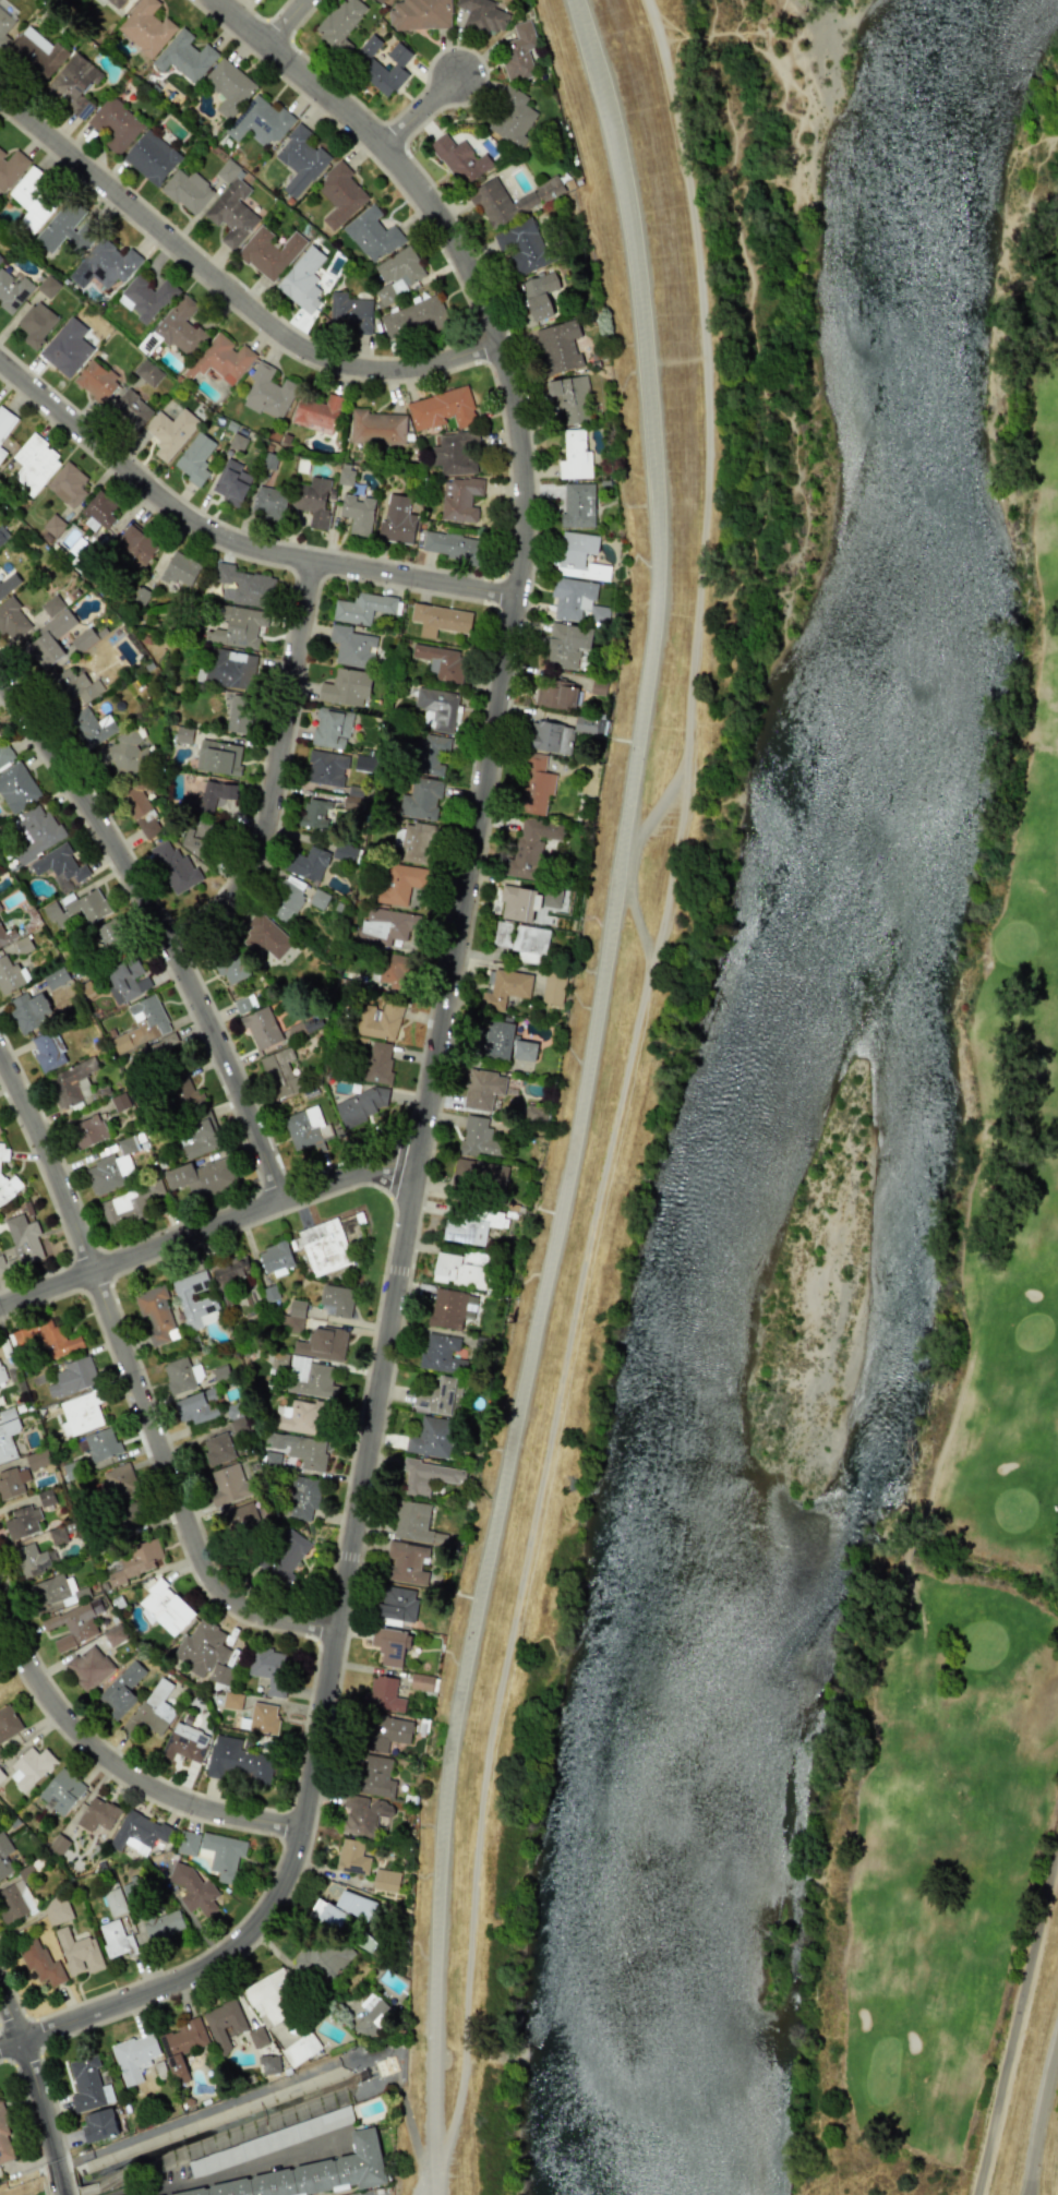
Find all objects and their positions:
building: (99, 1)
building: (378, 1)
building: (116, 3)
building: (419, 13)
building: (483, 14)
road: (289, 23)
building: (339, 24)
building: (145, 26)
building: (3, 28)
building: (369, 47)
building: (518, 51)
building: (38, 52)
building: (184, 56)
building: (387, 70)
building: (73, 84)
building: (228, 86)
road: (421, 115)
building: (510, 117)
building: (263, 120)
building: (115, 124)
building: (151, 157)
building: (460, 159)
building: (300, 160)
building: (10, 167)
building: (188, 191)
building: (339, 194)
building: (32, 199)
building: (510, 200)
building: (231, 213)
building: (65, 228)
building: (371, 235)
building: (268, 252)
building: (0, 257)
building: (104, 264)
building: (397, 273)
building: (302, 279)
building: (48, 287)
building: (12, 290)
road: (228, 295)
building: (539, 295)
building: (145, 297)
building: (349, 313)
building: (412, 319)
building: (36, 323)
building: (180, 326)
building: (558, 346)
building: (62, 355)
building: (220, 360)
river: (918, 360)
building: (148, 373)
building: (95, 381)
building: (267, 393)
building: (570, 400)
building: (130, 407)
building: (441, 408)
building: (317, 413)
building: (5, 421)
building: (376, 428)
building: (169, 431)
building: (1, 453)
building: (454, 453)
building: (574, 456)
building: (194, 458)
building: (34, 464)
building: (67, 484)
building: (229, 484)
building: (459, 499)
building: (312, 501)
building: (268, 502)
building: (577, 505)
building: (98, 509)
building: (357, 513)
building: (397, 520)
building: (53, 526)
building: (135, 544)
road: (228, 544)
building: (452, 547)
building: (578, 556)
building: (180, 569)
road: (659, 576)
building: (8, 583)
building: (243, 586)
building: (572, 598)
building: (361, 608)
building: (440, 619)
building: (12, 620)
building: (237, 626)
building: (50, 638)
building: (84, 639)
building: (565, 643)
building: (351, 646)
building: (441, 662)
building: (229, 668)
building: (76, 687)
building: (345, 687)
building: (556, 693)
building: (436, 708)
building: (239, 713)
building: (589, 725)
building: (91, 727)
building: (330, 728)
building: (183, 735)
building: (550, 736)
building: (3, 749)
building: (125, 754)
building: (430, 754)
building: (218, 757)
building: (325, 768)
road: (278, 779)
building: (534, 784)
building: (16, 788)
building: (214, 793)
building: (422, 797)
road: (660, 805)
building: (141, 809)
building: (314, 813)
building: (36, 831)
building: (199, 840)
building: (414, 841)
building: (531, 844)
building: (346, 853)
building: (308, 864)
building: (60, 866)
building: (175, 867)
building: (399, 883)
building: (287, 897)
building: (552, 897)
building: (518, 903)
building: (0, 909)
building: (76, 909)
building: (386, 924)
road: (636, 924)
building: (4, 933)
road: (160, 933)
building: (110, 935)
building: (266, 937)
building: (522, 941)
building: (231, 970)
building: (394, 971)
building: (10, 974)
building: (56, 979)
building: (127, 981)
building: (553, 987)
building: (505, 988)
building: (244, 1004)
building: (28, 1011)
building: (378, 1021)
building: (142, 1023)
building: (261, 1028)
building: (497, 1040)
building: (48, 1051)
building: (524, 1051)
building: (160, 1054)
road: (431, 1057)
building: (377, 1061)
building: (280, 1073)
building: (71, 1082)
road: (623, 1088)
building: (482, 1089)
building: (184, 1094)
building: (120, 1102)
building: (361, 1105)
building: (536, 1114)
building: (305, 1129)
building: (87, 1131)
building: (0, 1132)
building: (197, 1137)
building: (479, 1138)
building: (3, 1153)
building: (108, 1173)
building: (462, 1174)
building: (202, 1177)
road: (348, 1178)
building: (9, 1187)
building: (128, 1203)
building: (471, 1226)
building: (24, 1239)
building: (322, 1246)
road: (141, 1254)
building: (275, 1258)
building: (2, 1266)
building: (461, 1269)
building: (231, 1271)
building: (183, 1298)
building: (335, 1300)
building: (446, 1308)
building: (156, 1316)
building: (293, 1317)
building: (46, 1338)
building: (322, 1343)
building: (441, 1354)
building: (2, 1374)
building: (178, 1376)
building: (73, 1377)
building: (309, 1378)
road: (131, 1383)
building: (438, 1395)
building: (196, 1406)
building: (81, 1413)
building: (301, 1416)
building: (238, 1426)
building: (431, 1437)
building: (8, 1440)
building: (101, 1443)
building: (217, 1448)
building: (298, 1449)
building: (37, 1460)
river: (740, 1461)
park: (964, 1465)
building: (425, 1477)
building: (117, 1482)
building: (12, 1483)
building: (227, 1485)
building: (301, 1497)
building: (46, 1498)
building: (131, 1512)
building: (241, 1519)
building: (23, 1522)
building: (414, 1525)
building: (58, 1535)
building: (285, 1557)
building: (34, 1559)
building: (405, 1560)
building: (135, 1561)
building: (46, 1592)
building: (396, 1604)
building: (96, 1606)
building: (166, 1607)
building: (73, 1626)
building: (115, 1635)
building: (389, 1645)
building: (206, 1653)
building: (88, 1667)
building: (270, 1669)
road: (466, 1670)
building: (421, 1682)
building: (121, 1689)
building: (384, 1694)
building: (232, 1701)
building: (156, 1708)
building: (263, 1718)
building: (8, 1723)
building: (383, 1731)
building: (184, 1742)
building: (0, 1754)
building: (238, 1762)
road: (116, 1766)
building: (29, 1768)
building: (371, 1775)
building: (61, 1791)
building: (98, 1814)
building: (362, 1814)
building: (139, 1832)
building: (189, 1844)
building: (223, 1855)
building: (4, 1856)
building: (351, 1857)
building: (385, 1880)
building: (193, 1890)
building: (132, 1892)
building: (15, 1902)
building: (113, 1902)
building: (341, 1909)
building: (57, 1910)
building: (163, 1924)
building: (116, 1939)
building: (79, 1952)
building: (321, 1958)
building: (40, 1962)
building: (268, 1993)
building: (371, 2016)
road: (1017, 2019)
building: (224, 2023)
building: (257, 2037)
building: (183, 2046)
building: (300, 2049)
building: (133, 2056)
building: (269, 2064)
building: (87, 2084)
road: (36, 2097)
road: (1037, 2112)
road: (195, 2114)
building: (98, 2125)
road: (412, 2133)
building: (4, 2142)
road: (422, 2171)
road: (232, 2172)
building: (310, 2173)
road: (422, 2179)

